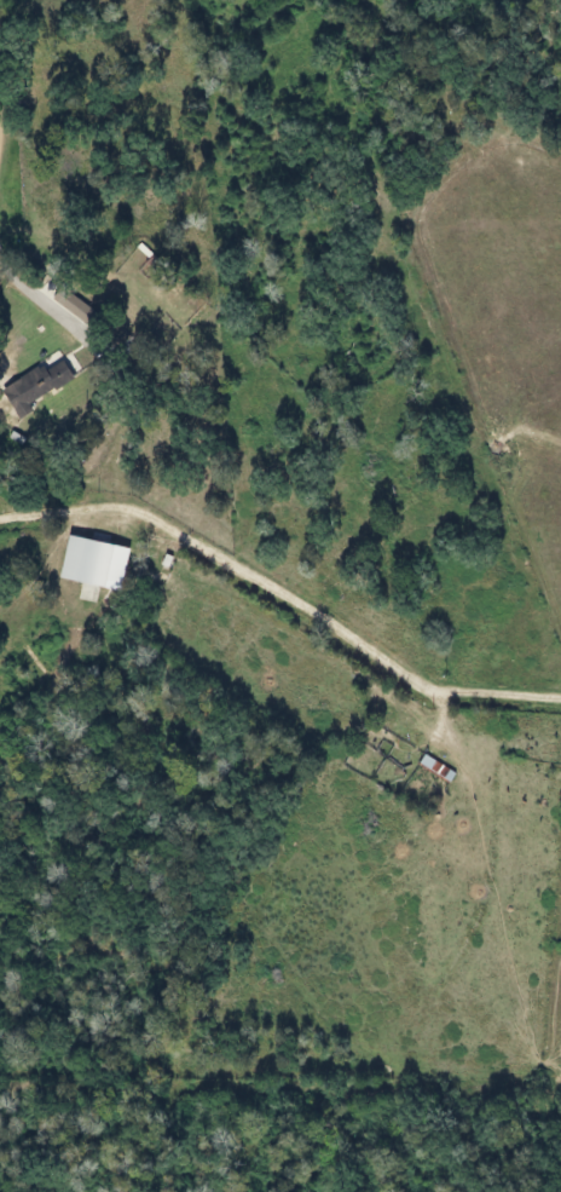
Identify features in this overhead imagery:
road: (5, 22)
building: (44, 381)
building: (435, 766)

